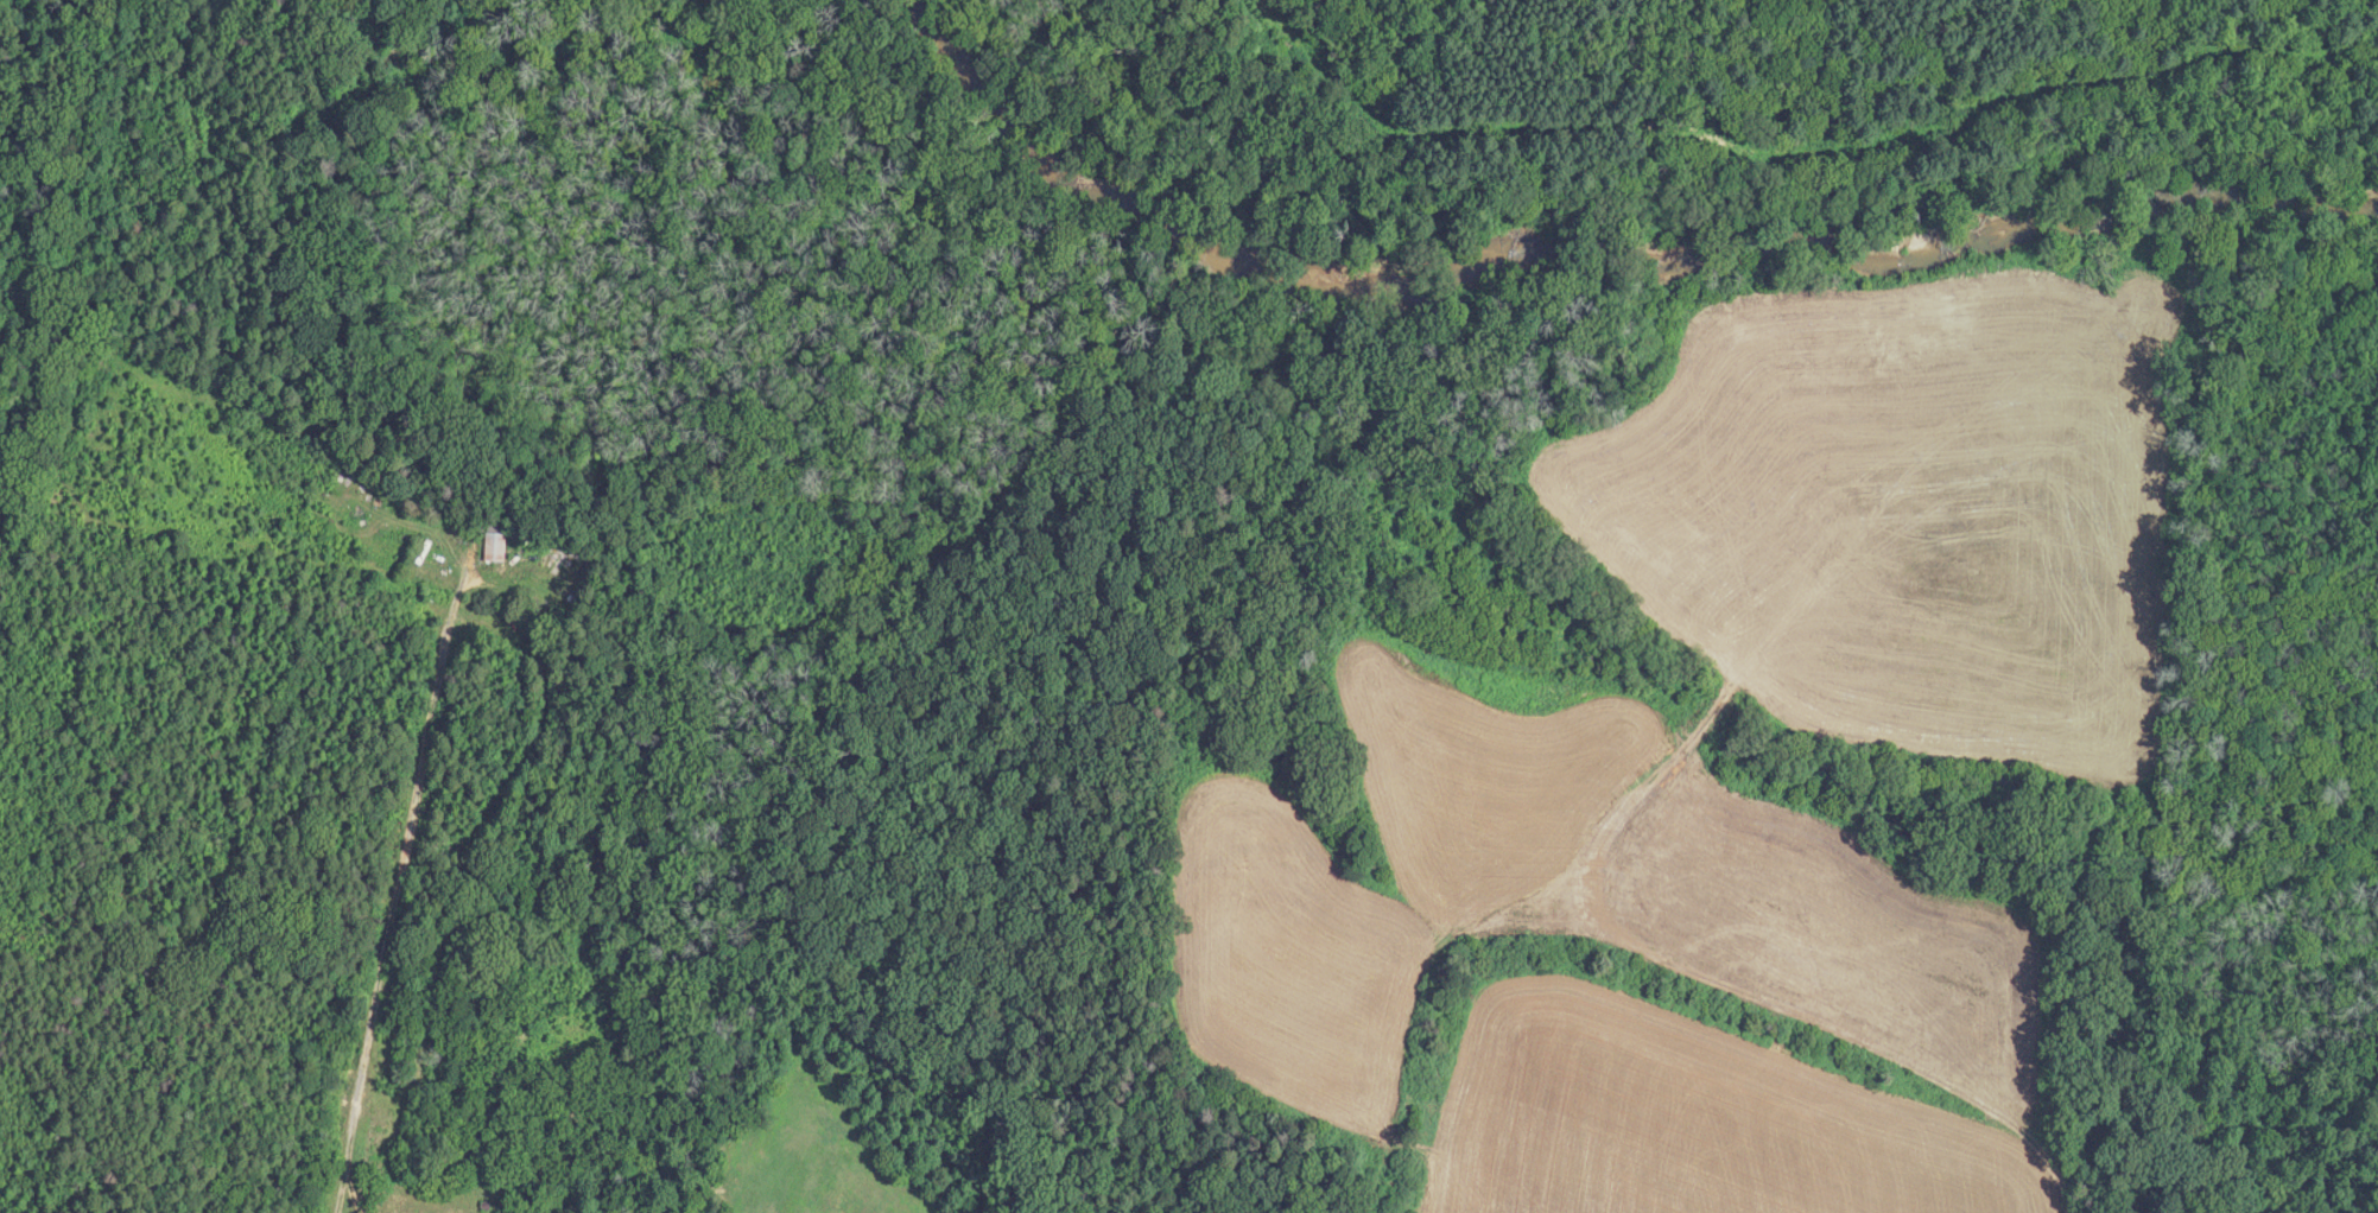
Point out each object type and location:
building: (496, 548)

